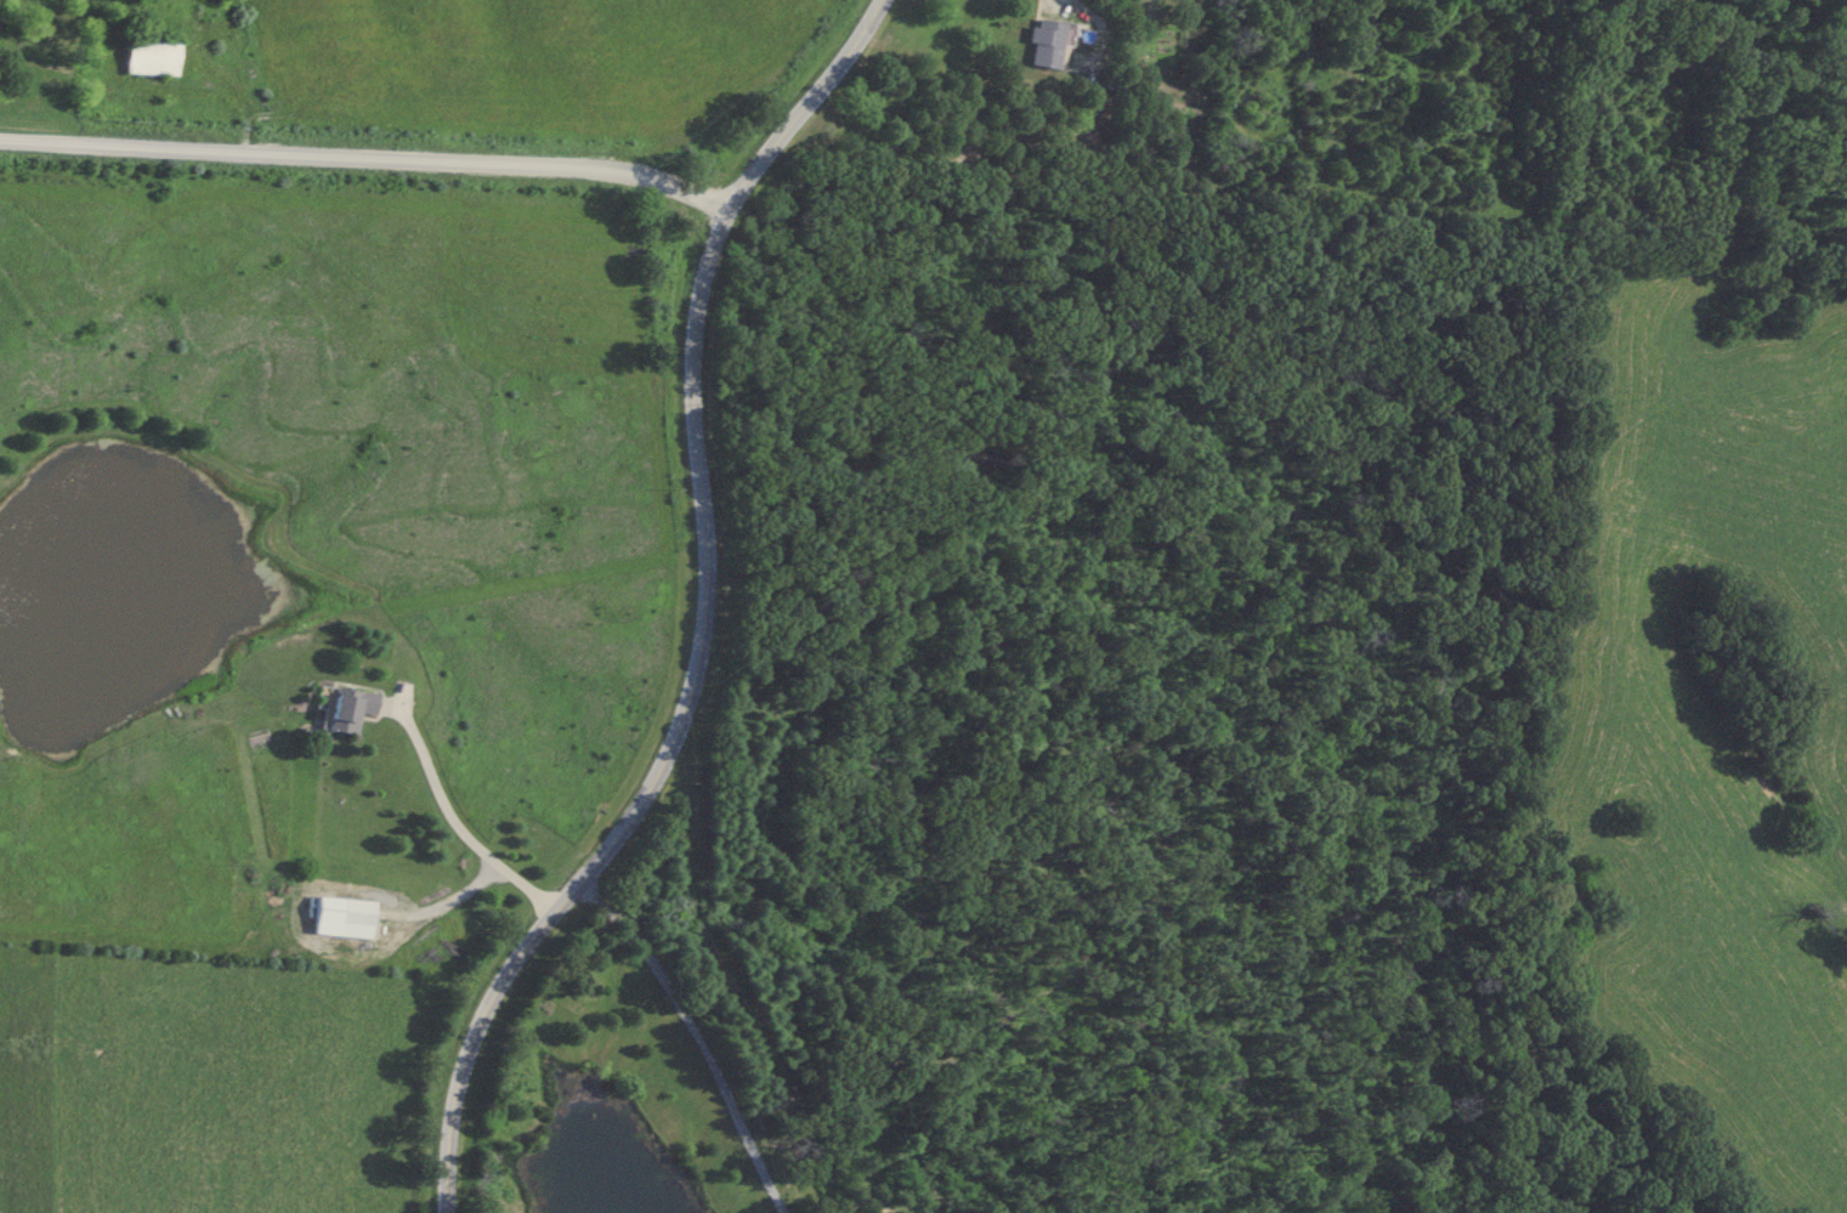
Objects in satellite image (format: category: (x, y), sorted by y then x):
road: (1070, 1)
building: (1048, 44)
building: (23, 58)
building: (155, 58)
road: (363, 152)
road: (701, 612)
building: (352, 708)
road: (452, 812)
building: (358, 911)
road: (704, 1037)

